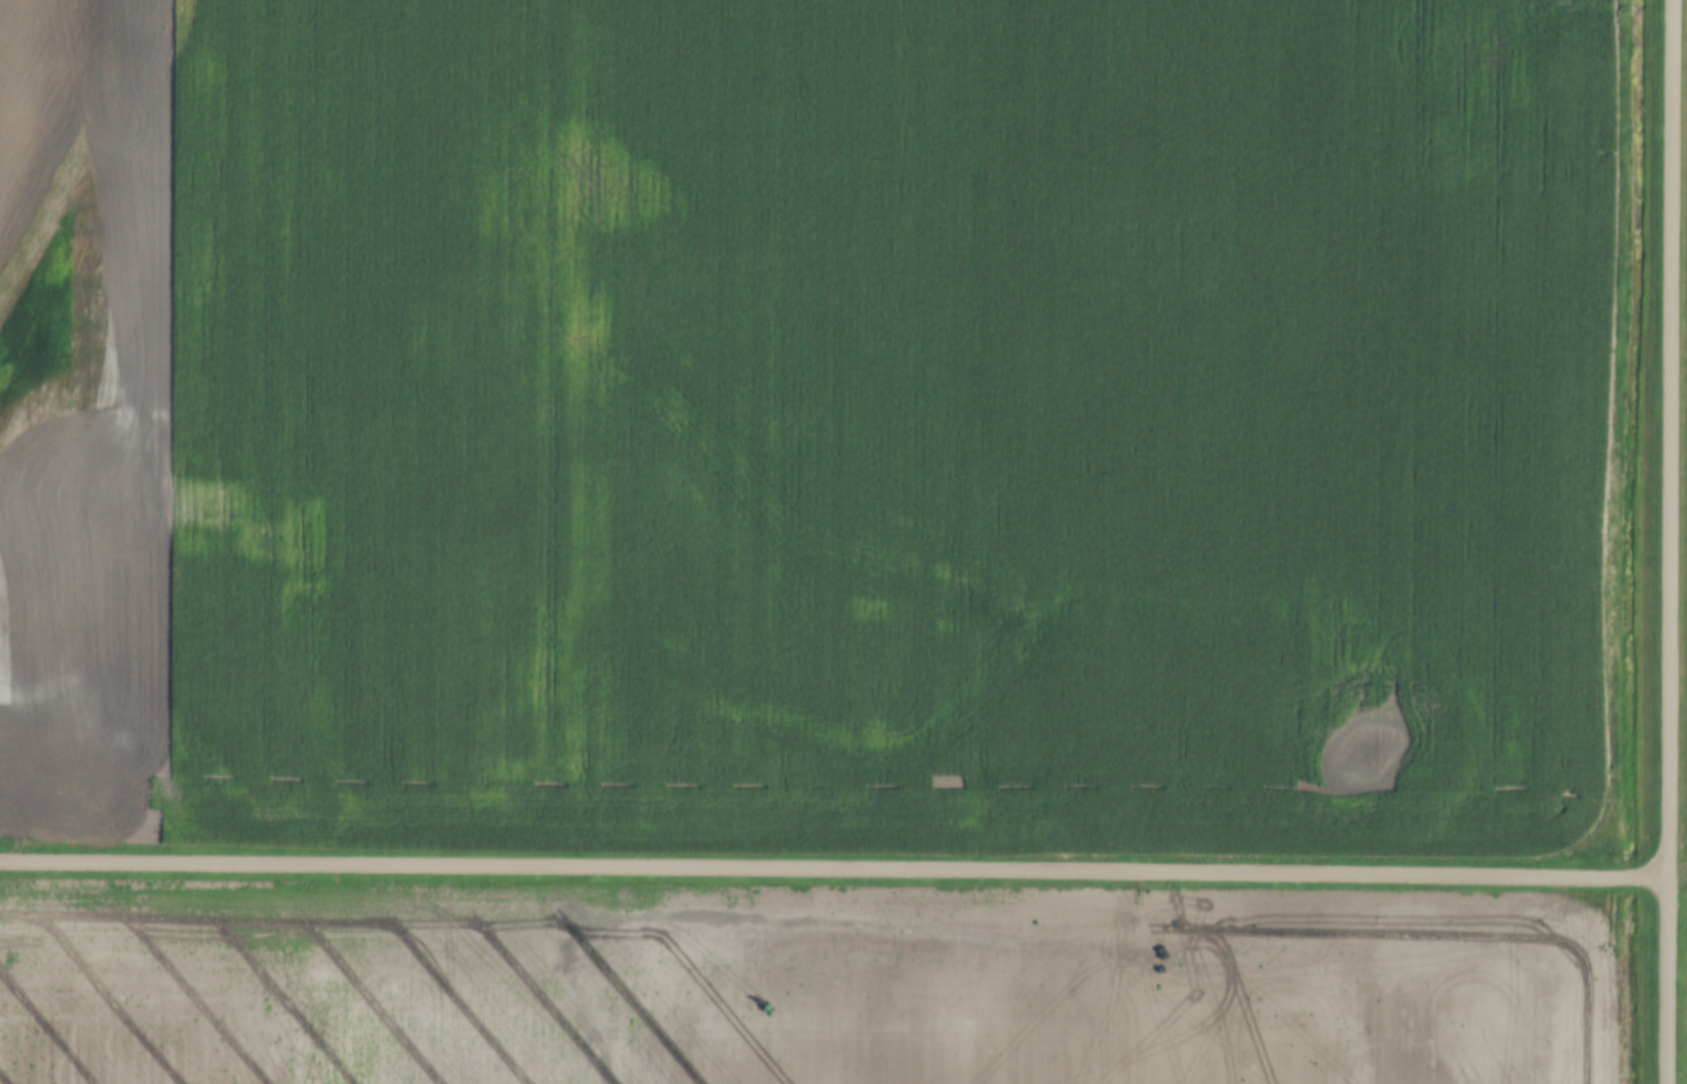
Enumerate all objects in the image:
road: (1672, 541)
road: (835, 867)

